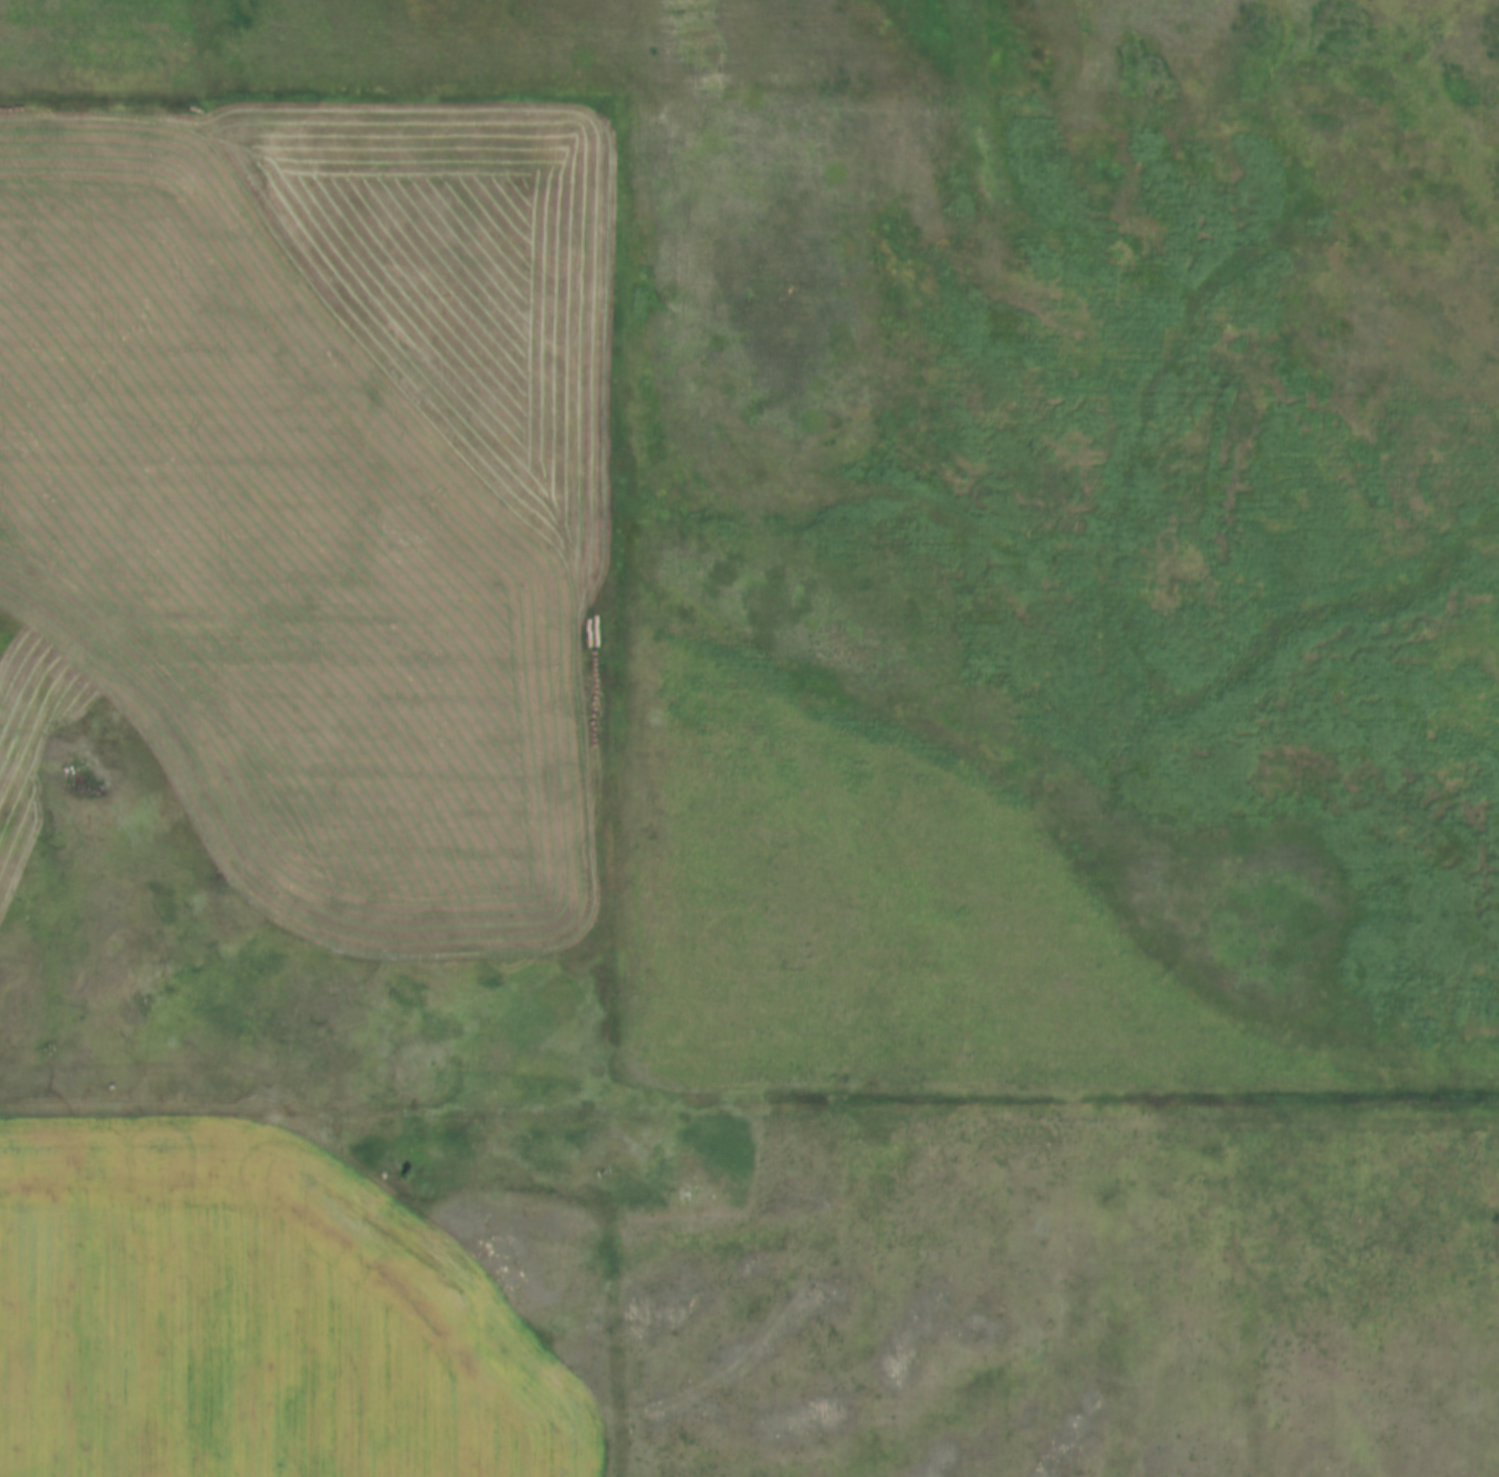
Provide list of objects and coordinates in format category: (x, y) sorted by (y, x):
road: (749, 1110)

